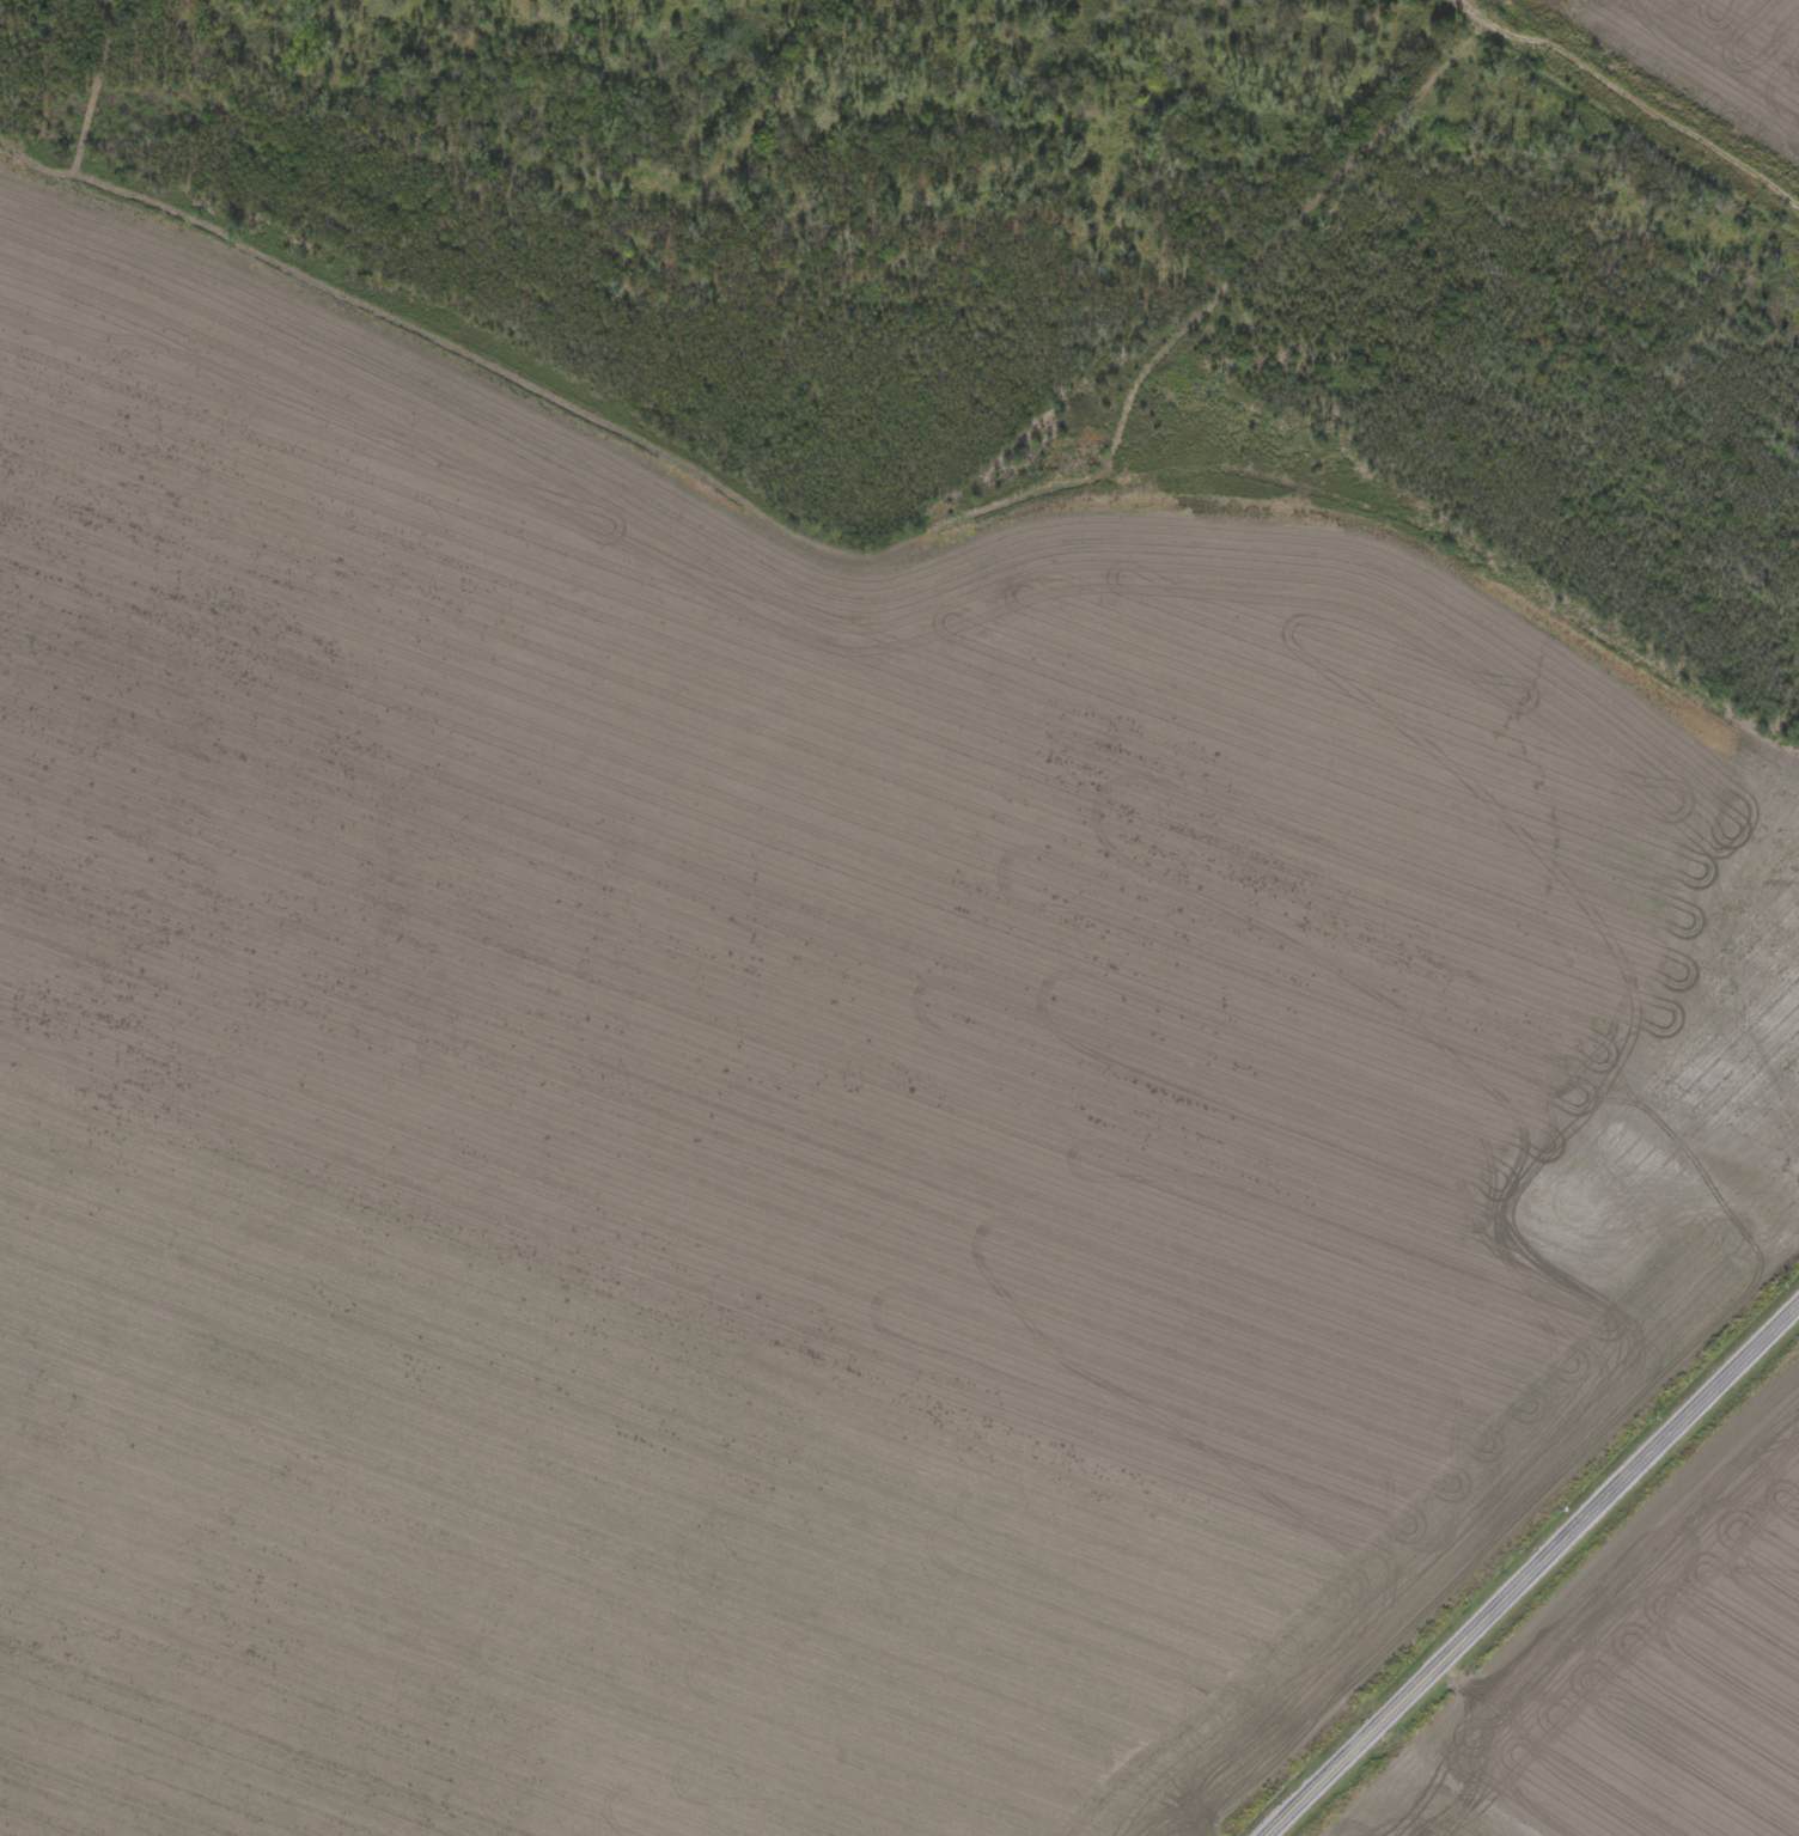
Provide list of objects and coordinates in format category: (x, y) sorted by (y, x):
crop: (1694, 66)
road: (1630, 104)
road: (1533, 1572)

